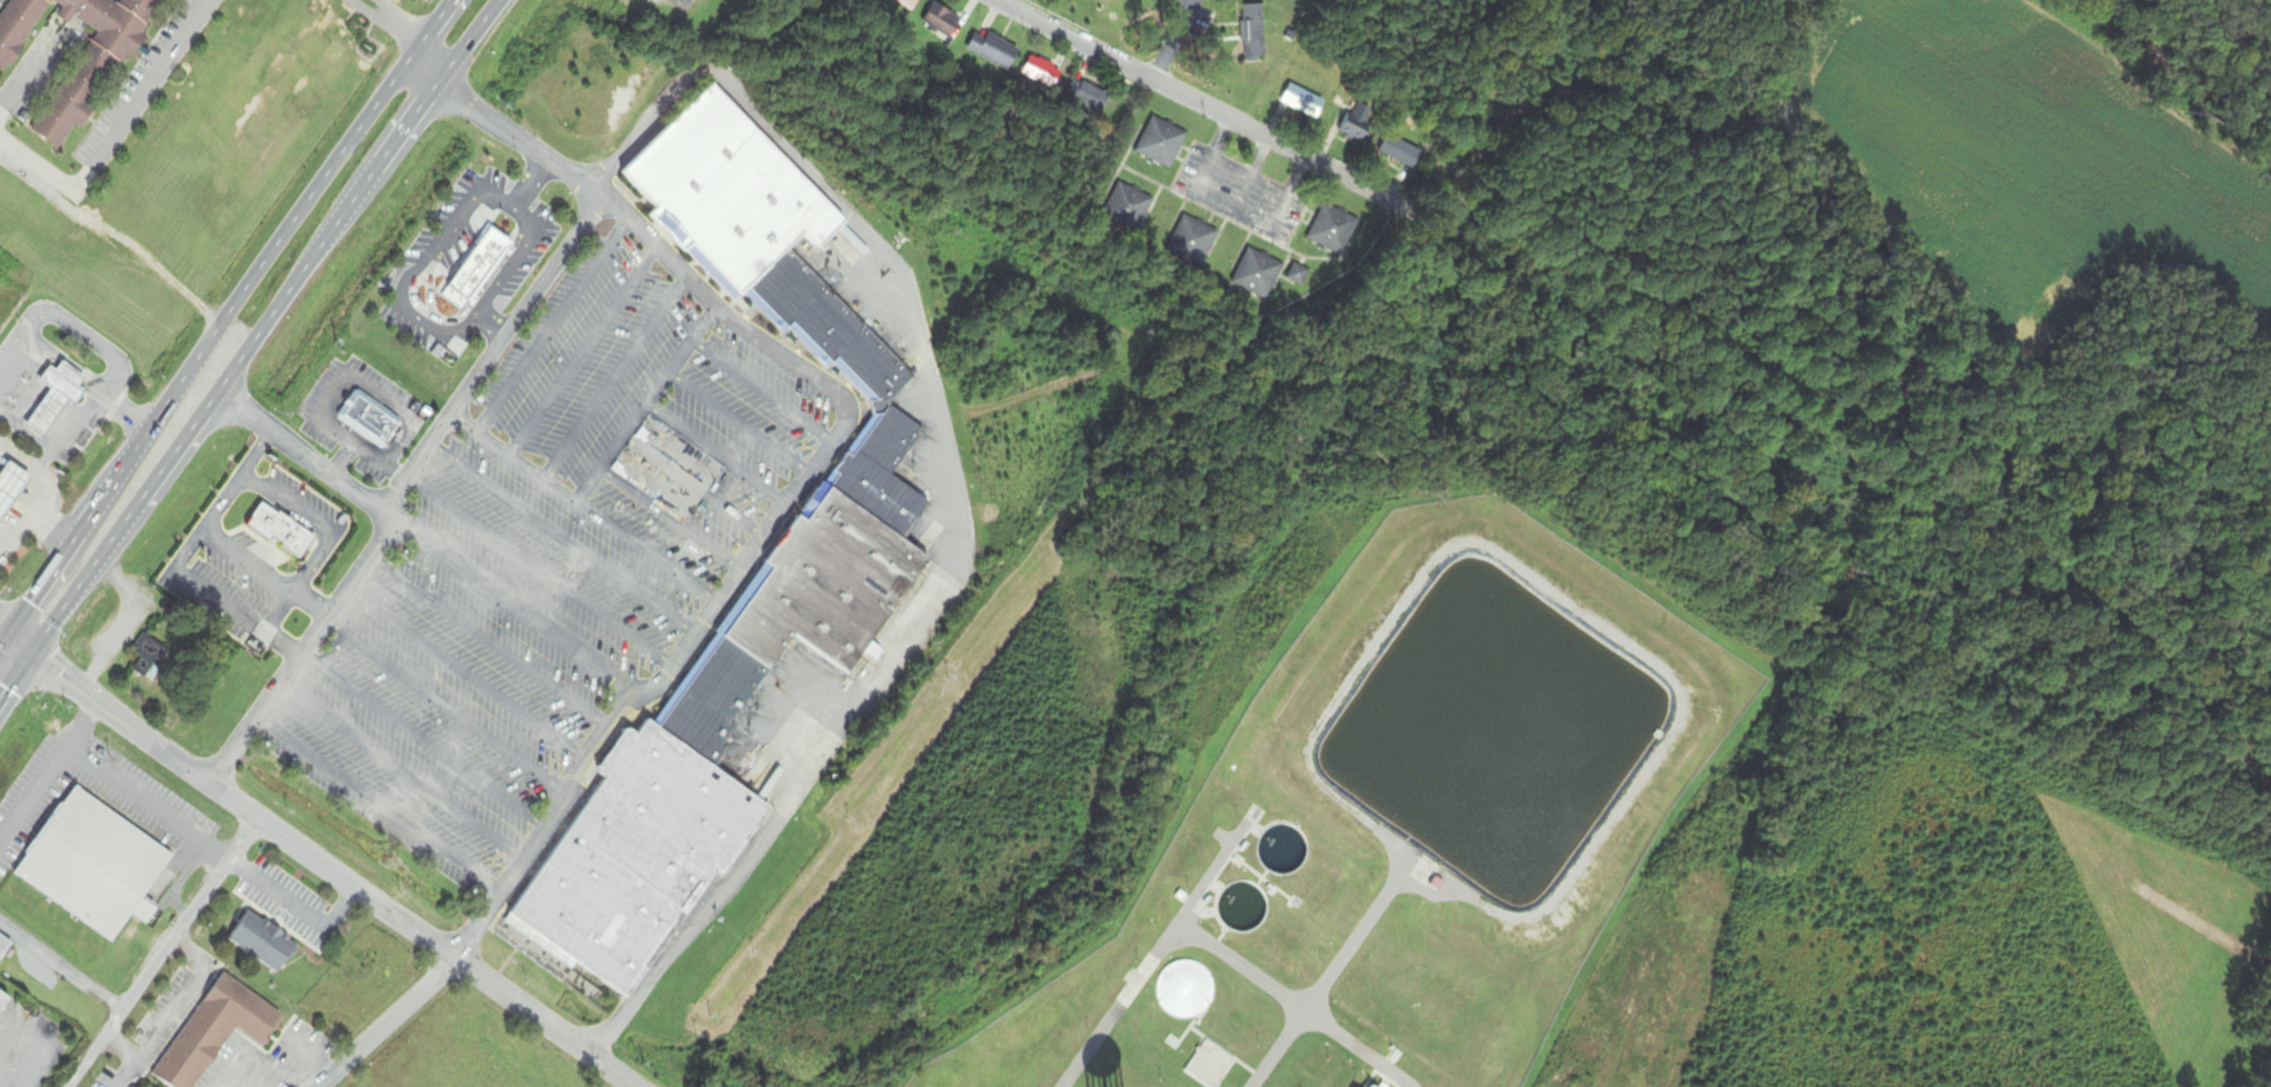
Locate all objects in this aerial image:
building: (909, 4)
road: (369, 12)
building: (942, 22)
road: (399, 29)
building: (1253, 33)
road: (1177, 42)
building: (994, 51)
road: (26, 70)
building: (1043, 74)
building: (1088, 98)
building: (76, 102)
building: (1303, 103)
road: (1217, 113)
building: (1356, 129)
road: (116, 130)
building: (1161, 144)
building: (1401, 153)
building: (1127, 210)
building: (1332, 231)
building: (1192, 243)
building: (476, 272)
building: (1258, 276)
building: (1298, 277)
road: (226, 316)
road: (267, 325)
road: (551, 325)
road: (581, 349)
road: (492, 355)
road: (614, 377)
road: (336, 388)
road: (761, 391)
building: (52, 396)
road: (643, 402)
road: (91, 406)
building: (369, 422)
road: (736, 425)
road: (1894, 432)
road: (715, 452)
road: (19, 458)
road: (821, 458)
road: (345, 461)
road: (34, 479)
building: (9, 486)
road: (585, 507)
road: (11, 516)
road: (670, 518)
building: (282, 532)
road: (563, 538)
building: (850, 555)
road: (361, 566)
road: (539, 570)
road: (510, 605)
road: (488, 640)
traffic signals: (21, 645)
road: (10, 658)
building: (150, 659)
road: (466, 674)
road: (443, 707)
road: (422, 739)
road: (400, 771)
road: (377, 806)
road: (309, 857)
building: (96, 867)
road: (298, 909)
building: (264, 944)
building: (4, 948)
road: (163, 954)
building: (2, 1001)
road: (173, 1009)
road: (385, 1024)
road: (1320, 1024)
building: (217, 1031)
road: (121, 1047)
road: (295, 1061)
building: (130, 1086)

